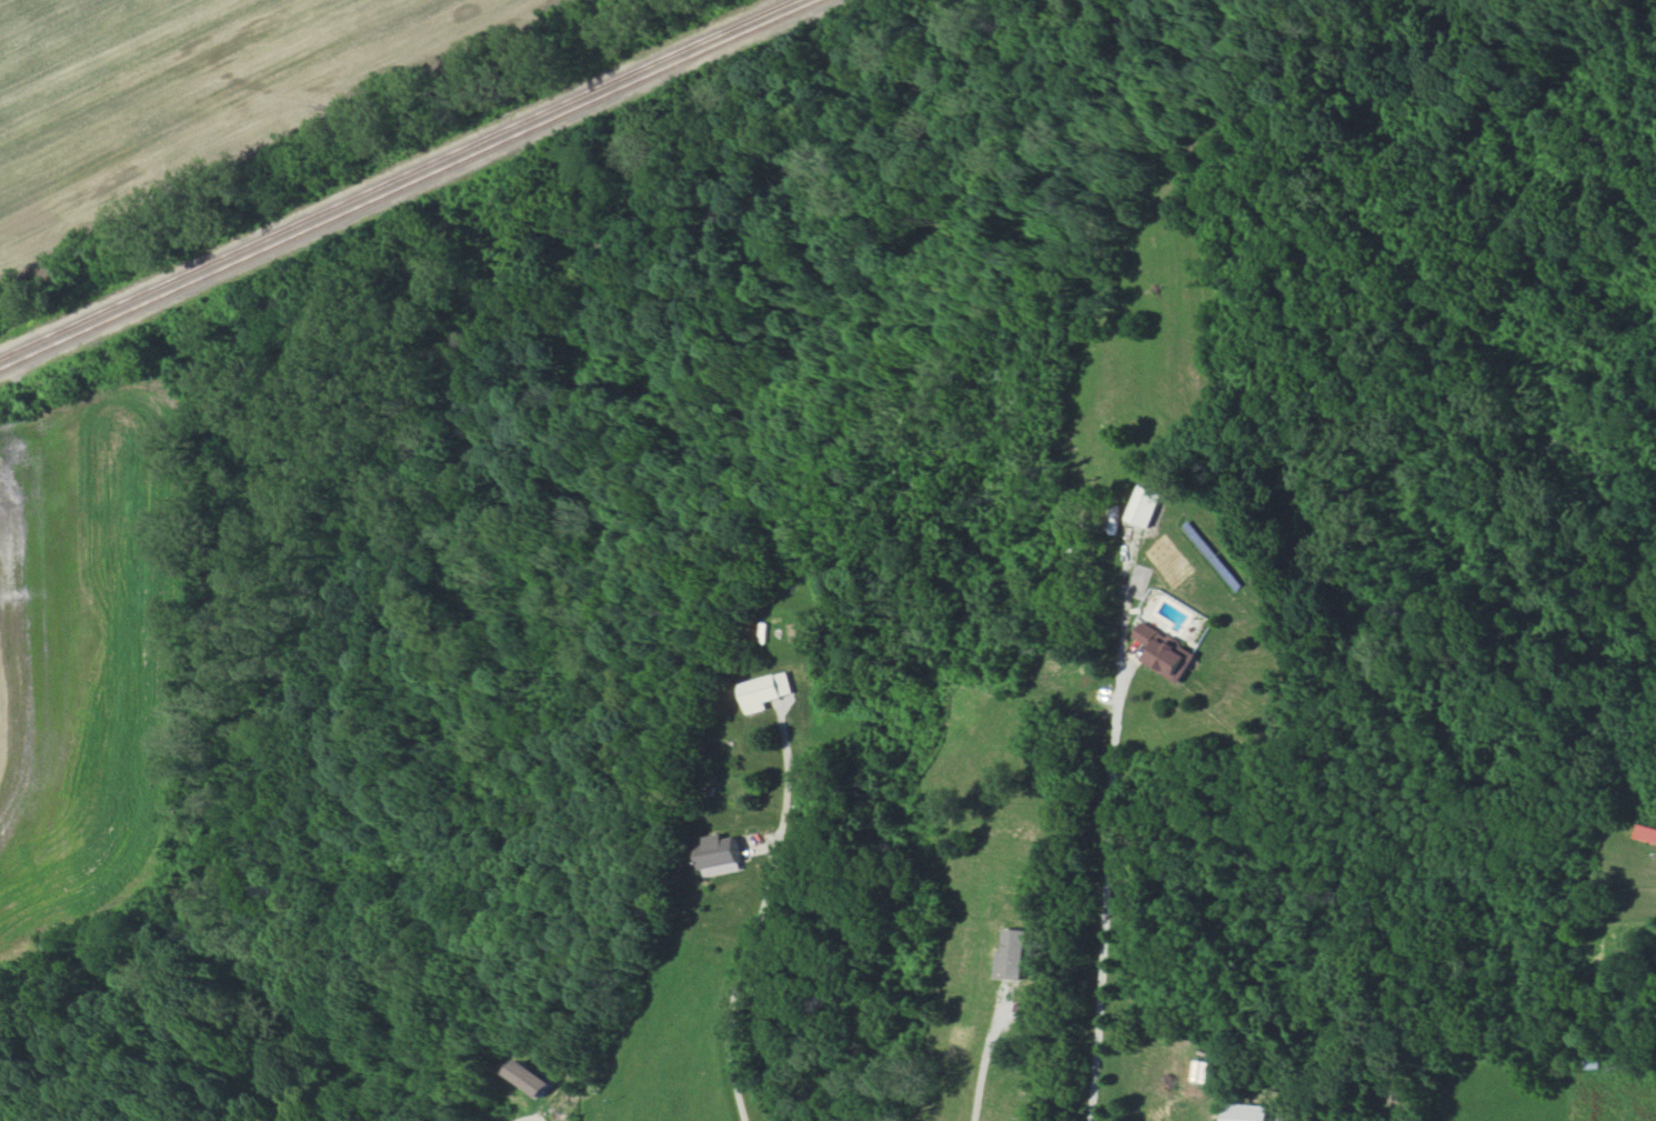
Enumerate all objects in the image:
crop: (191, 90)
railway: (403, 180)
railway: (415, 186)
building: (1146, 506)
building: (1166, 652)
crop: (88, 660)
building: (765, 691)
road: (1108, 823)
building: (1645, 833)
building: (720, 855)
road: (759, 912)
building: (1013, 955)
crop: (669, 1038)
road: (984, 1064)
building: (534, 1078)
building: (1246, 1112)
road: (516, 1120)

